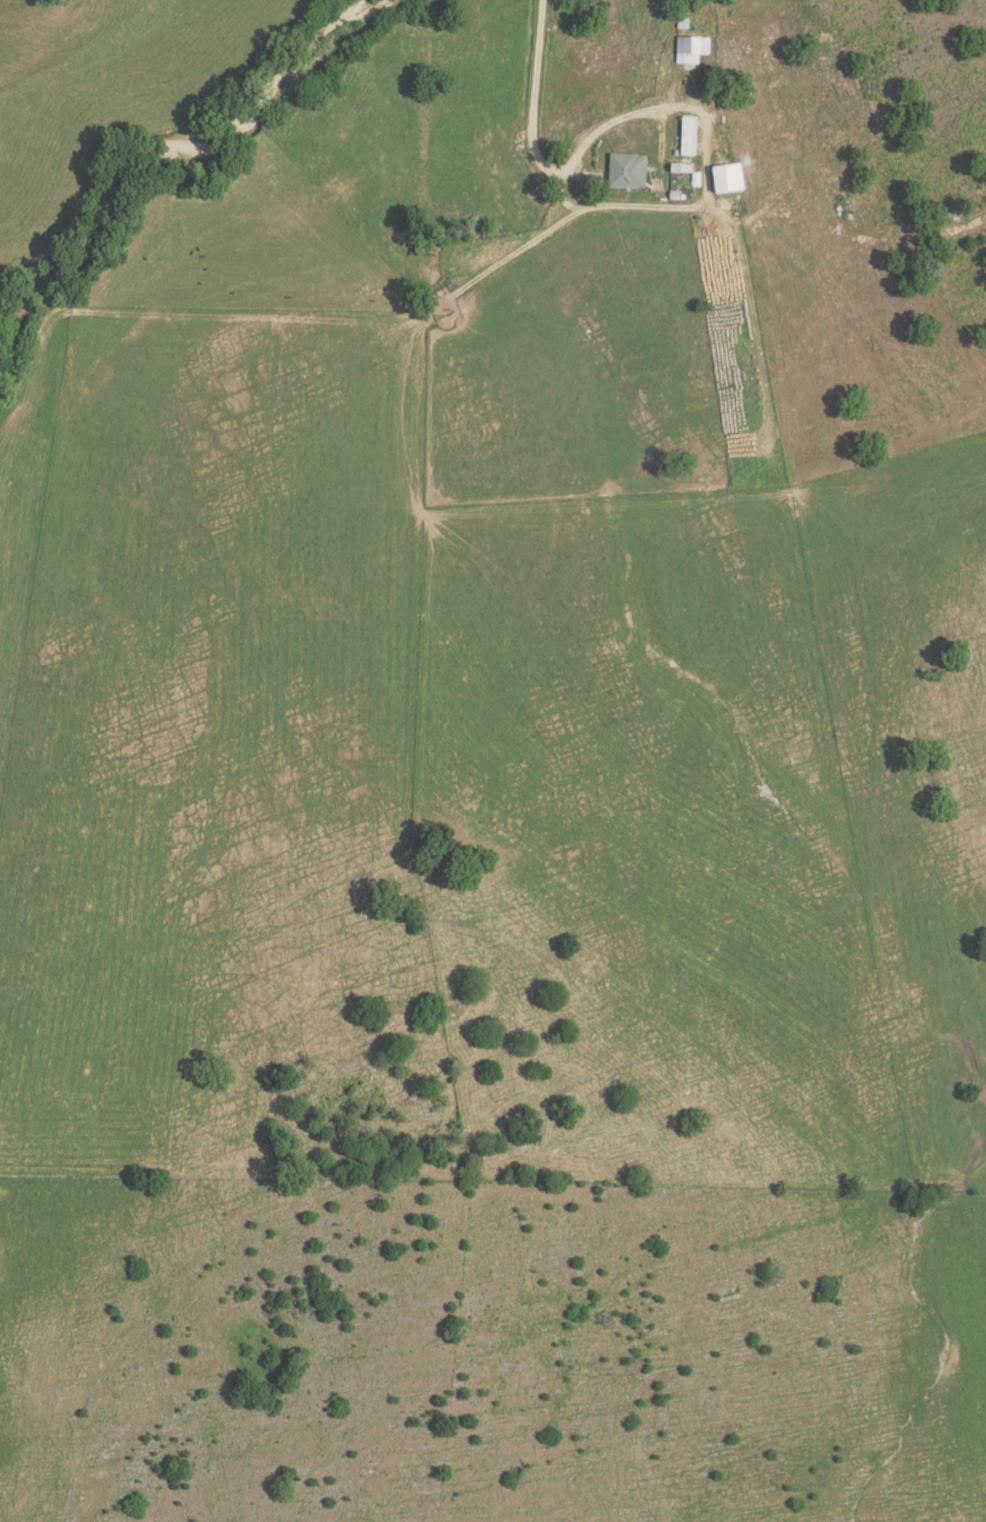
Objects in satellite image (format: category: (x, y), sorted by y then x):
building: (686, 14)
building: (687, 132)
road: (540, 165)
building: (627, 167)
building: (727, 174)

